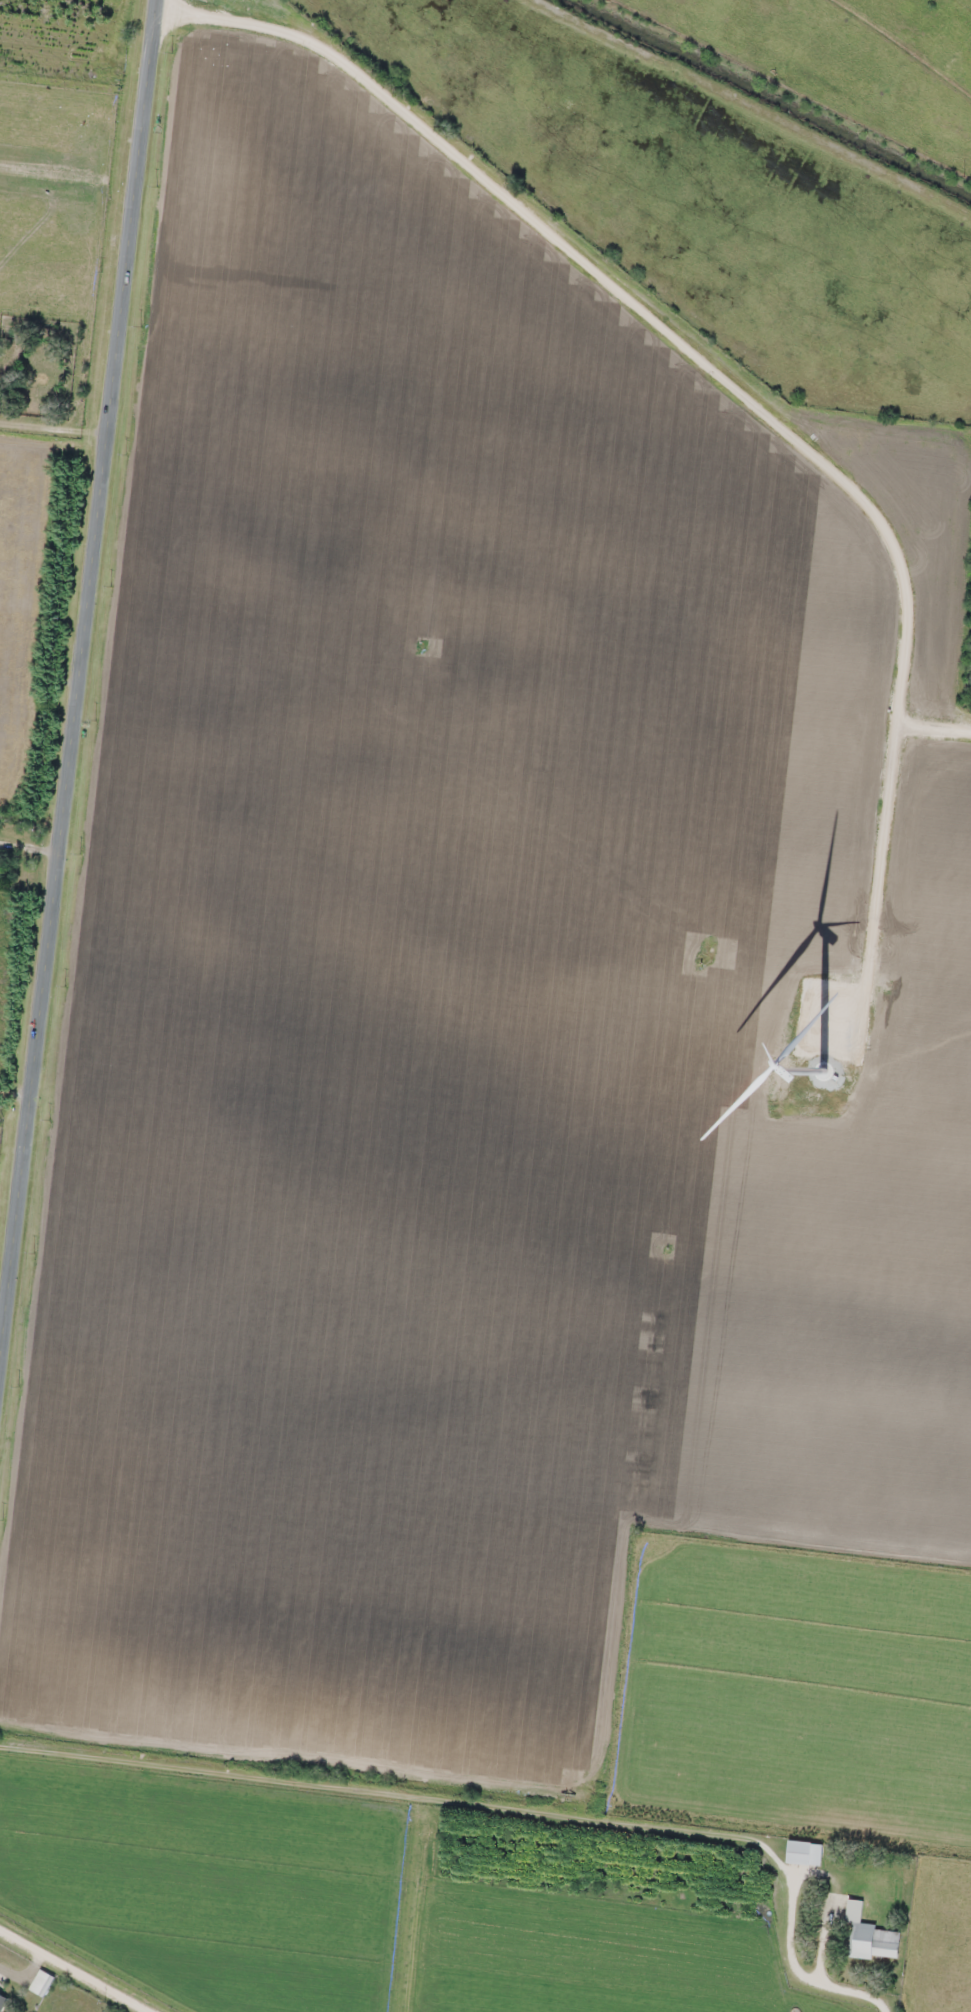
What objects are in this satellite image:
road: (78, 685)
wind turbine: (822, 1067)
building: (870, 1937)
road: (799, 1959)
road: (72, 1972)
building: (41, 1983)
building: (2, 2002)

